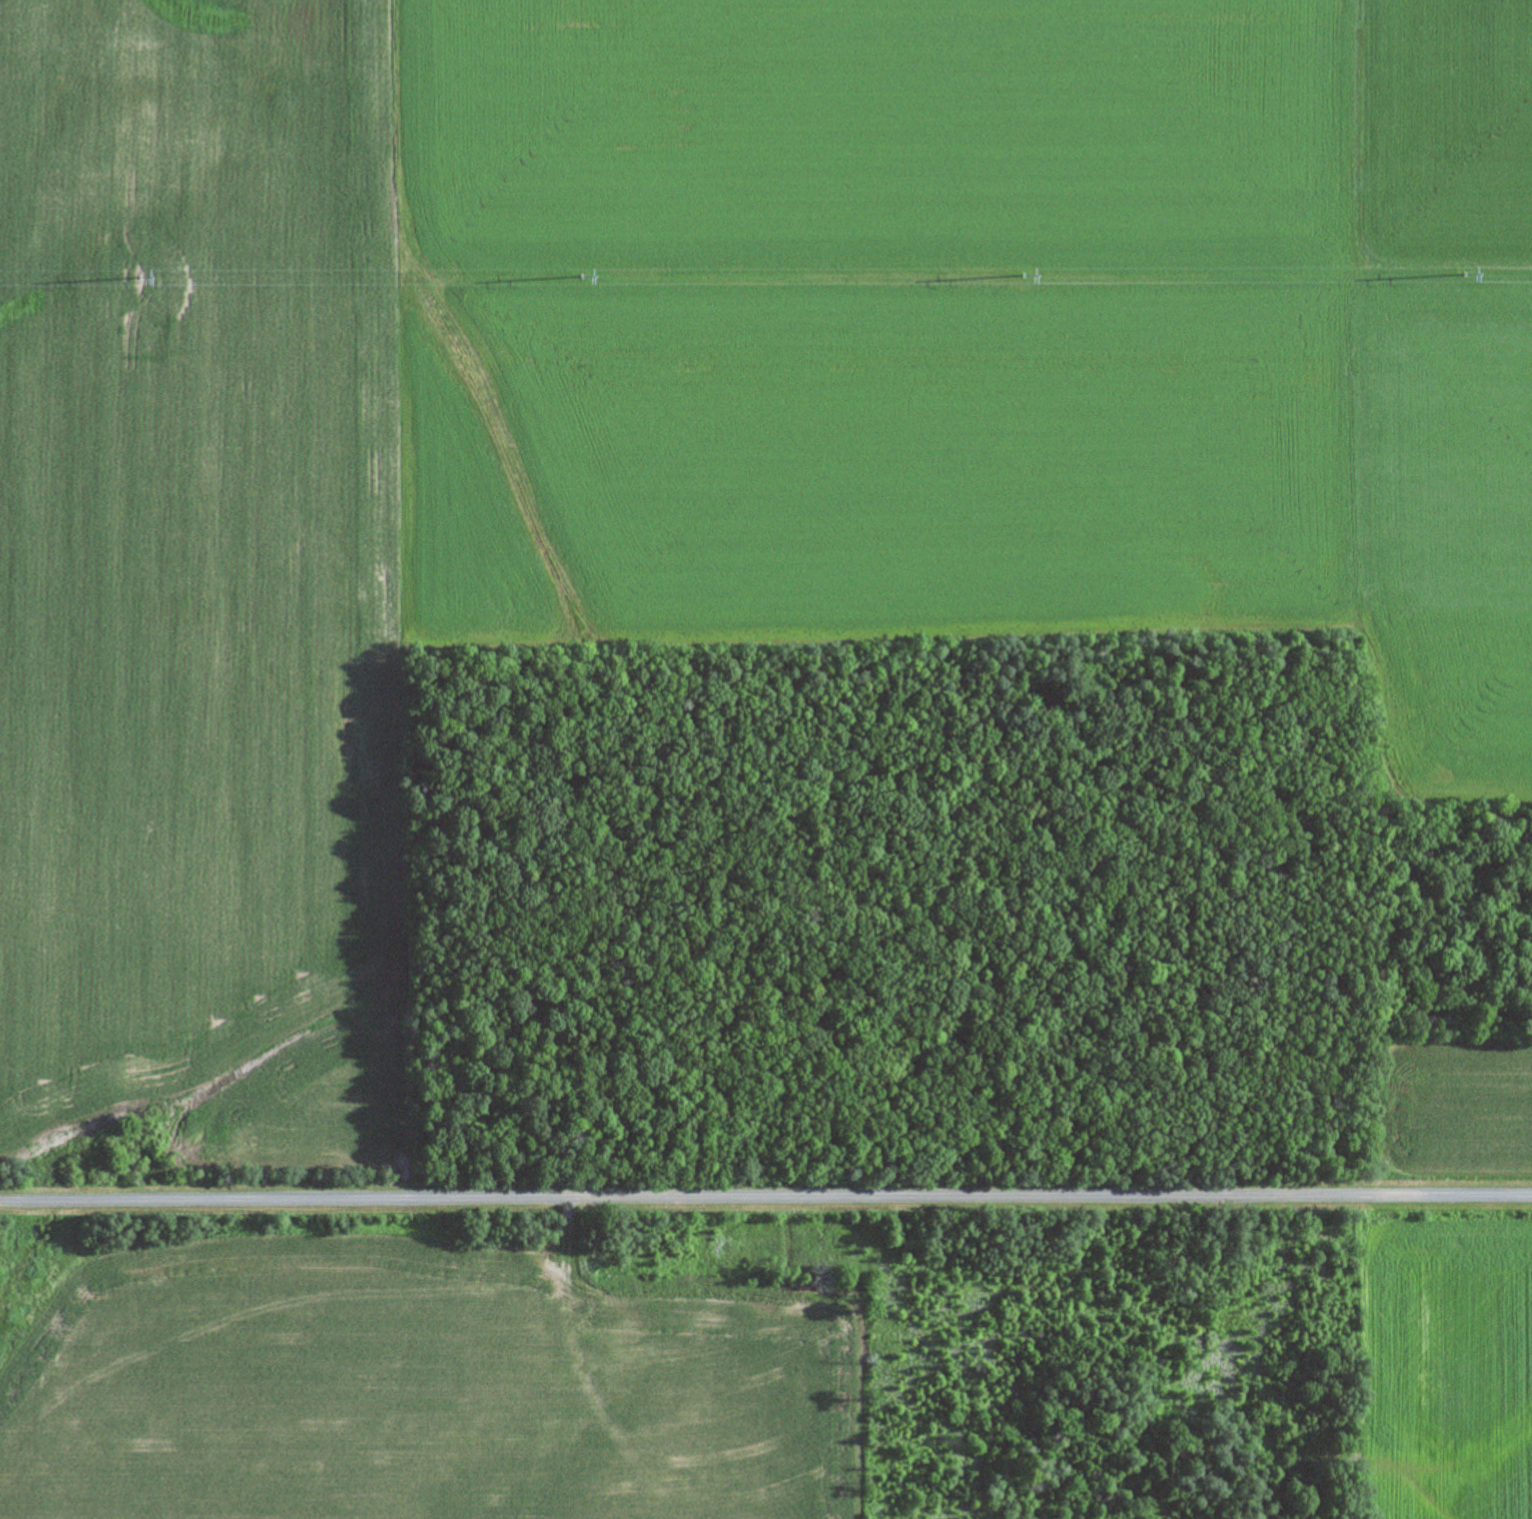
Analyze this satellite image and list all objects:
road: (765, 1197)

